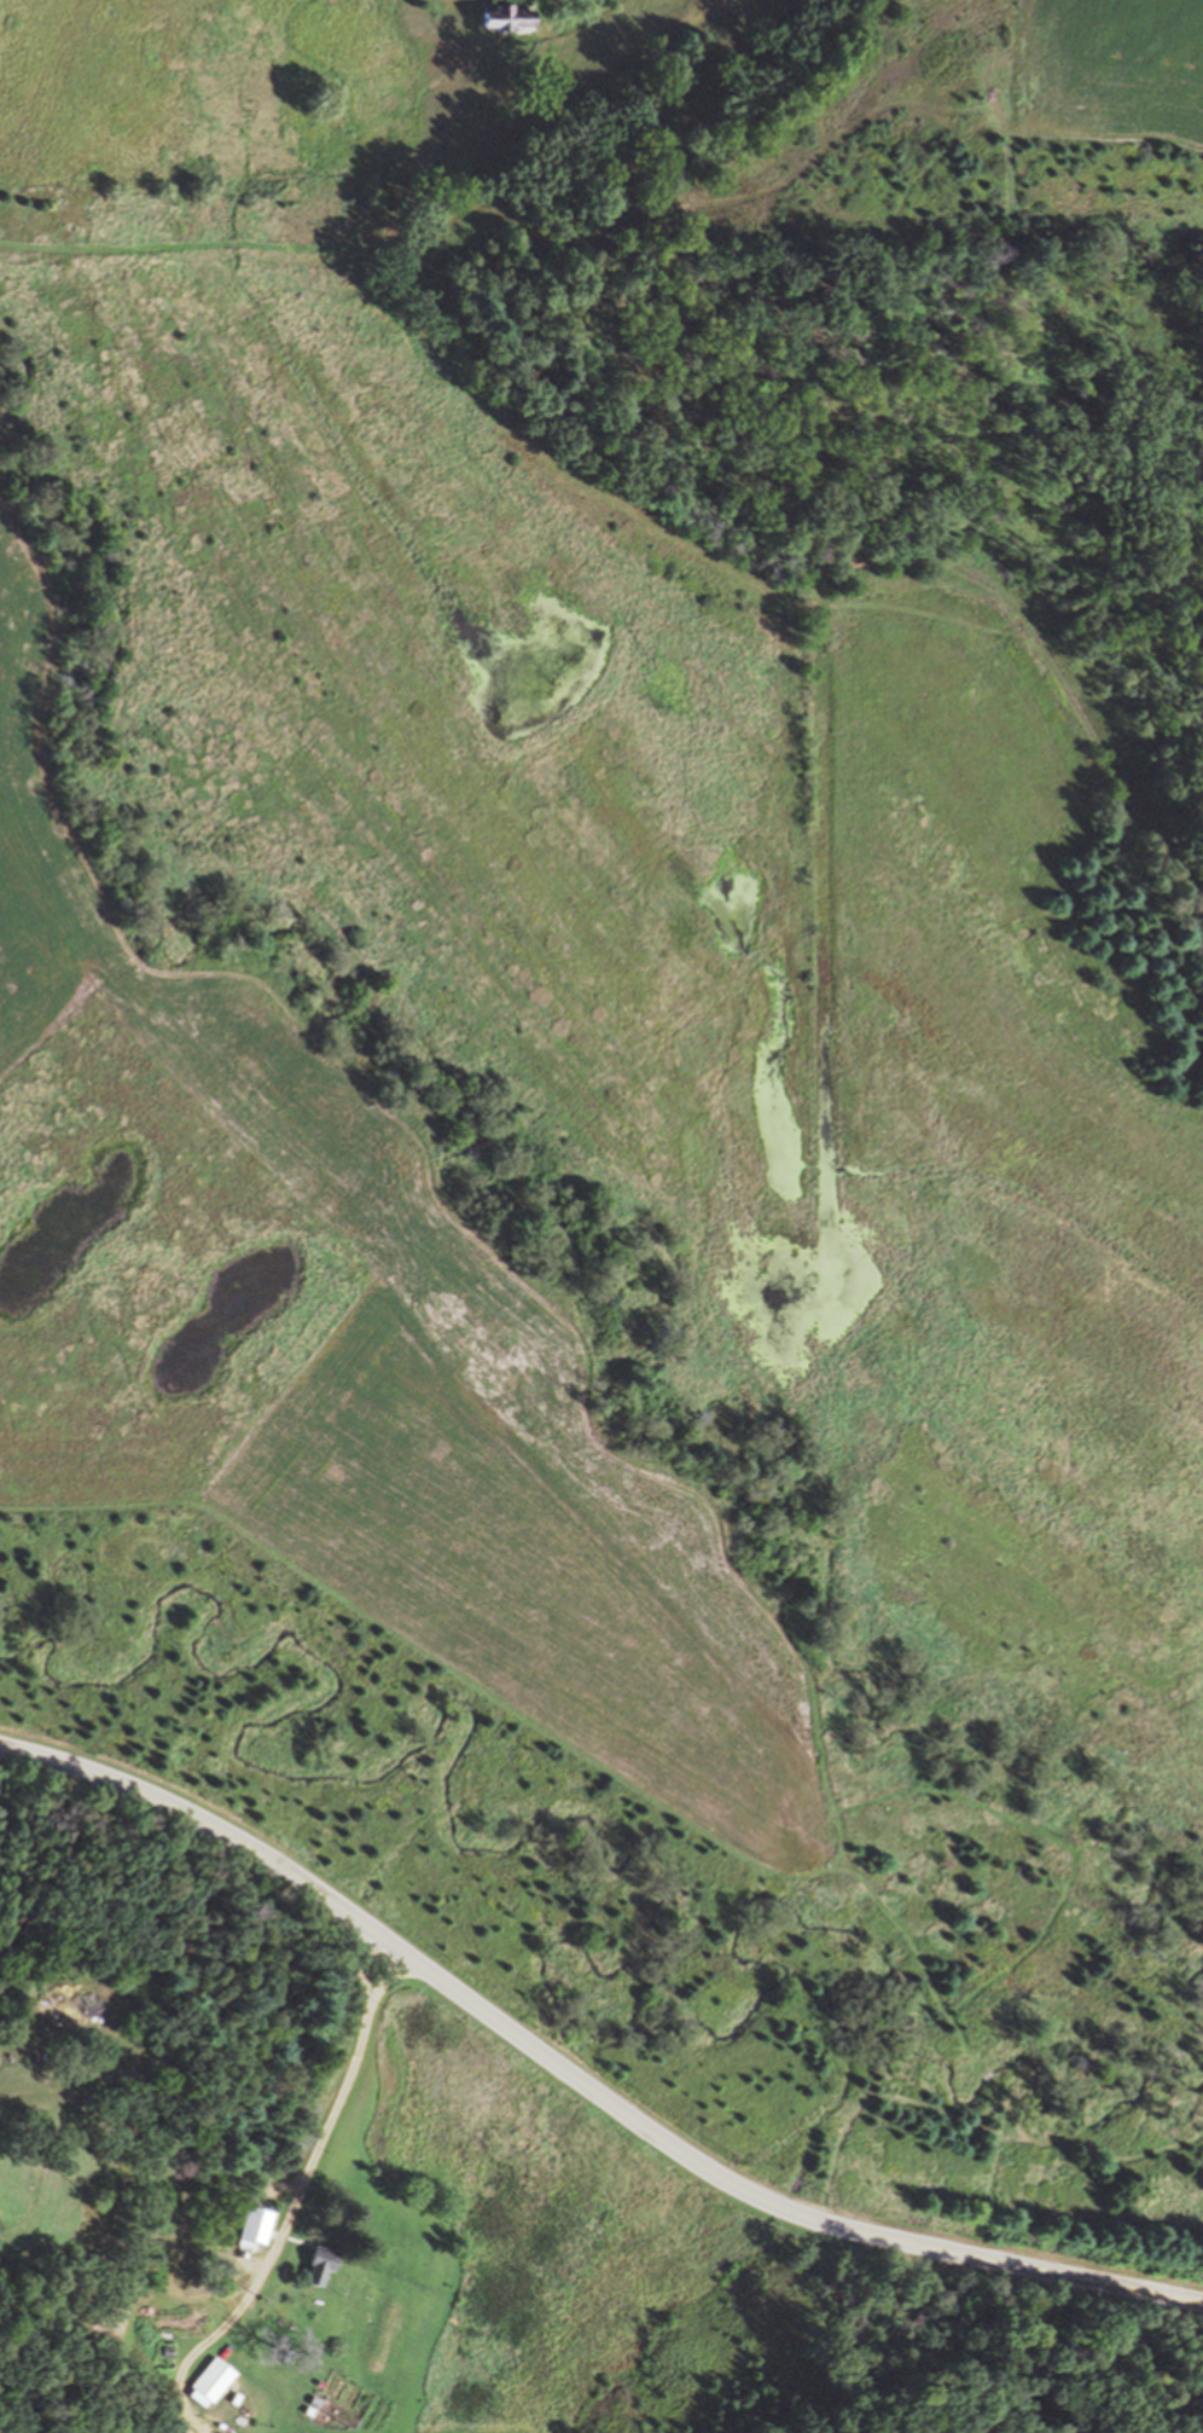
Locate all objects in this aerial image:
building: (507, 18)
road: (368, 1966)
road: (577, 2081)
road: (184, 2192)
road: (295, 2202)
building: (260, 2225)
building: (318, 2265)
building: (216, 2376)

